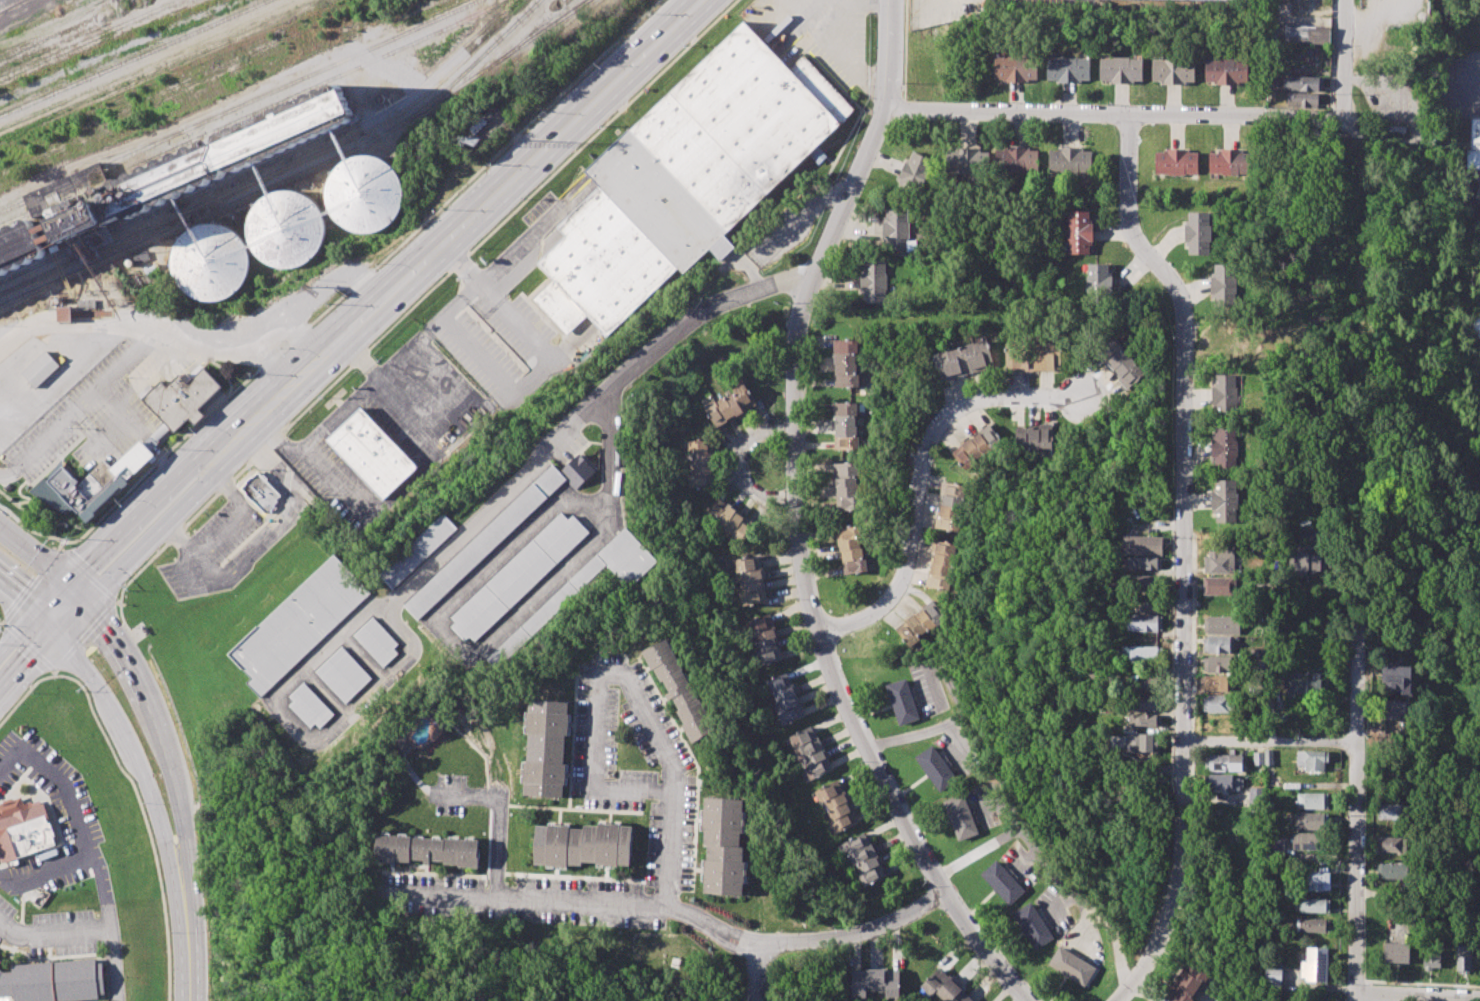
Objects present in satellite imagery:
building: (1229, 0)
road: (862, 1)
road: (878, 2)
railway: (9, 4)
railway: (581, 5)
railway: (560, 7)
railway: (19, 9)
railway: (31, 14)
railway: (42, 18)
building: (1307, 35)
road: (847, 53)
railway: (132, 57)
road: (1332, 58)
road: (1343, 59)
railway: (497, 62)
railway: (473, 63)
building: (1015, 69)
building: (1068, 69)
building: (1121, 69)
building: (1174, 70)
building: (1227, 70)
street lamp: (904, 83)
building: (1303, 83)
street lamp: (1333, 94)
street lamp: (996, 100)
building: (1303, 100)
street lamp: (1107, 102)
street lamp: (1198, 103)
railway: (240, 105)
road: (1062, 110)
railway: (250, 114)
road: (1290, 116)
building: (1474, 147)
building: (223, 154)
building: (1017, 161)
railway: (271, 162)
building: (968, 162)
building: (1070, 163)
building: (1176, 165)
building: (1230, 166)
railway: (278, 170)
building: (688, 175)
street lamp: (842, 176)
building: (915, 176)
road: (501, 192)
building: (363, 195)
street lamp: (1138, 206)
building: (1479, 208)
railway: (203, 217)
building: (72, 218)
building: (284, 230)
building: (897, 232)
building: (1079, 233)
building: (1200, 234)
road: (528, 236)
building: (17, 246)
building: (208, 263)
road: (458, 267)
road: (780, 280)
building: (874, 283)
building: (1098, 283)
building: (1224, 285)
street lamp: (788, 302)
building: (1476, 325)
street lamp: (1175, 336)
road: (206, 337)
road: (571, 347)
building: (1033, 356)
road: (263, 357)
building: (963, 360)
building: (846, 363)
building: (1119, 363)
building: (40, 368)
road: (533, 380)
street lamp: (994, 386)
road: (1054, 392)
building: (1224, 395)
road: (86, 398)
building: (181, 398)
building: (729, 406)
road: (124, 412)
road: (336, 415)
building: (845, 426)
road: (559, 436)
building: (1034, 438)
street lamp: (782, 447)
building: (976, 447)
building: (1224, 448)
building: (371, 454)
street lamp: (933, 461)
road: (170, 462)
building: (700, 464)
road: (741, 464)
road: (4, 473)
road: (402, 486)
building: (846, 486)
building: (88, 489)
road: (187, 490)
building: (260, 493)
road: (918, 493)
building: (1225, 500)
building: (950, 506)
road: (289, 511)
building: (728, 520)
road: (797, 522)
road: (32, 530)
building: (497, 532)
road: (221, 534)
building: (1142, 545)
building: (851, 550)
building: (417, 551)
road: (1184, 555)
road: (40, 558)
building: (1306, 560)
building: (1219, 561)
building: (1140, 562)
building: (941, 565)
road: (204, 566)
road: (87, 575)
building: (518, 576)
building: (748, 580)
building: (1144, 581)
street lamp: (910, 584)
building: (1219, 586)
building: (583, 588)
traffic signals: (76, 596)
street lamp: (795, 599)
road: (25, 602)
building: (1147, 606)
road: (63, 611)
road: (122, 619)
building: (1142, 622)
building: (921, 623)
building: (298, 624)
building: (1222, 624)
traffic signals: (50, 627)
building: (763, 639)
building: (377, 641)
building: (1219, 644)
road: (27, 645)
building: (1140, 653)
road: (1267, 653)
road: (24, 655)
building: (1219, 664)
building: (344, 675)
road: (629, 677)
building: (1397, 678)
building: (1218, 683)
building: (1303, 684)
building: (678, 689)
road: (141, 691)
building: (1144, 694)
building: (783, 699)
building: (902, 701)
building: (1218, 704)
building: (309, 706)
building: (1393, 709)
building: (1144, 719)
road: (1215, 740)
road: (1301, 742)
road: (131, 746)
building: (1141, 746)
building: (546, 748)
building: (809, 753)
building: (1264, 758)
building: (1312, 759)
building: (1223, 762)
building: (936, 768)
building: (1224, 782)
building: (1256, 796)
building: (1312, 801)
building: (836, 806)
road: (1356, 809)
building: (1390, 811)
building: (960, 817)
parking lot: (75, 818)
road: (144, 818)
road: (499, 818)
building: (1310, 820)
building: (24, 832)
road: (186, 841)
building: (1309, 841)
building: (1391, 843)
road: (988, 844)
building: (584, 845)
building: (723, 846)
building: (1275, 846)
road: (89, 849)
building: (427, 850)
building: (862, 860)
building: (1394, 871)
building: (1317, 881)
building: (1002, 882)
road: (445, 894)
road: (1081, 900)
road: (629, 902)
building: (1312, 905)
parking lot: (5, 914)
building: (1312, 925)
building: (1033, 926)
street lamp: (168, 931)
road: (853, 932)
road: (52, 933)
parking lot: (59, 935)
road: (187, 941)
building: (1396, 952)
building: (1431, 953)
building: (1463, 957)
building: (1315, 965)
building: (1072, 966)
road: (754, 975)
building: (1273, 975)
building: (52, 981)
building: (1187, 981)
building: (875, 982)
building: (944, 987)
road: (1408, 998)

